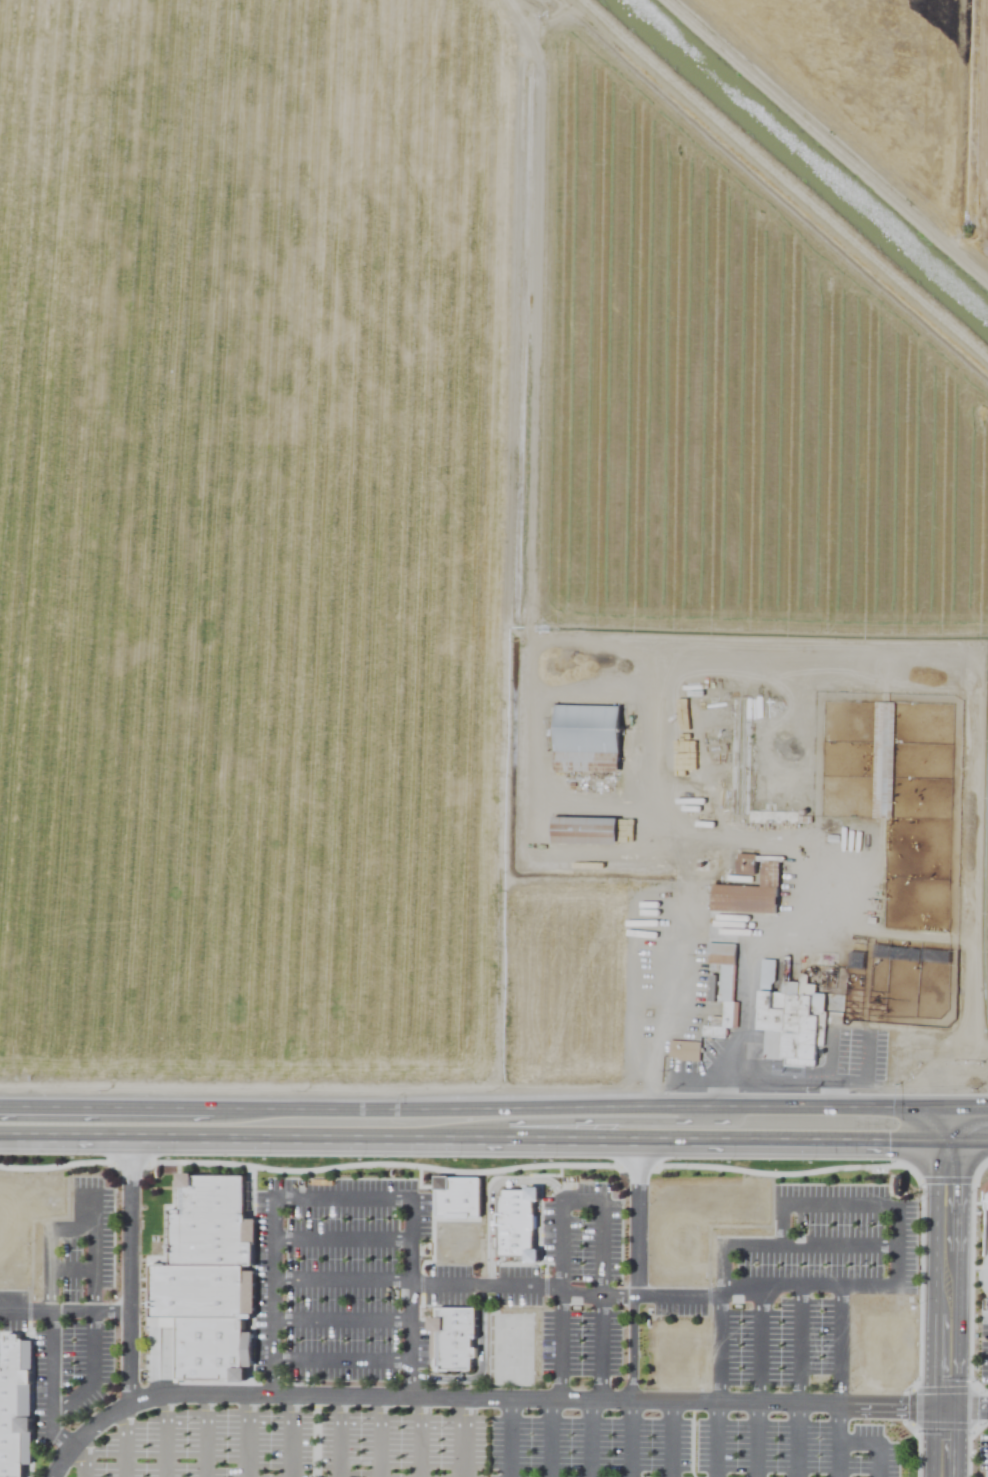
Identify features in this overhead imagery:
road: (826, 145)
building: (593, 725)
crop: (494, 738)
building: (742, 756)
building: (886, 761)
building: (586, 831)
building: (747, 899)
building: (722, 979)
building: (789, 1017)
building: (683, 1050)
road: (494, 1104)
road: (586, 1119)
road: (13, 1122)
road: (488, 1127)
traffic signals: (950, 1133)
road: (969, 1133)
road: (343, 1194)
building: (212, 1197)
road: (129, 1217)
building: (522, 1222)
building: (450, 1223)
building: (701, 1226)
building: (208, 1241)
road: (453, 1285)
road: (950, 1291)
building: (198, 1292)
road: (632, 1303)
road: (65, 1310)
building: (210, 1330)
building: (459, 1332)
building: (515, 1340)
building: (877, 1344)
building: (678, 1352)
road: (130, 1356)
building: (210, 1361)
road: (483, 1396)
building: (12, 1404)
road: (969, 1406)

